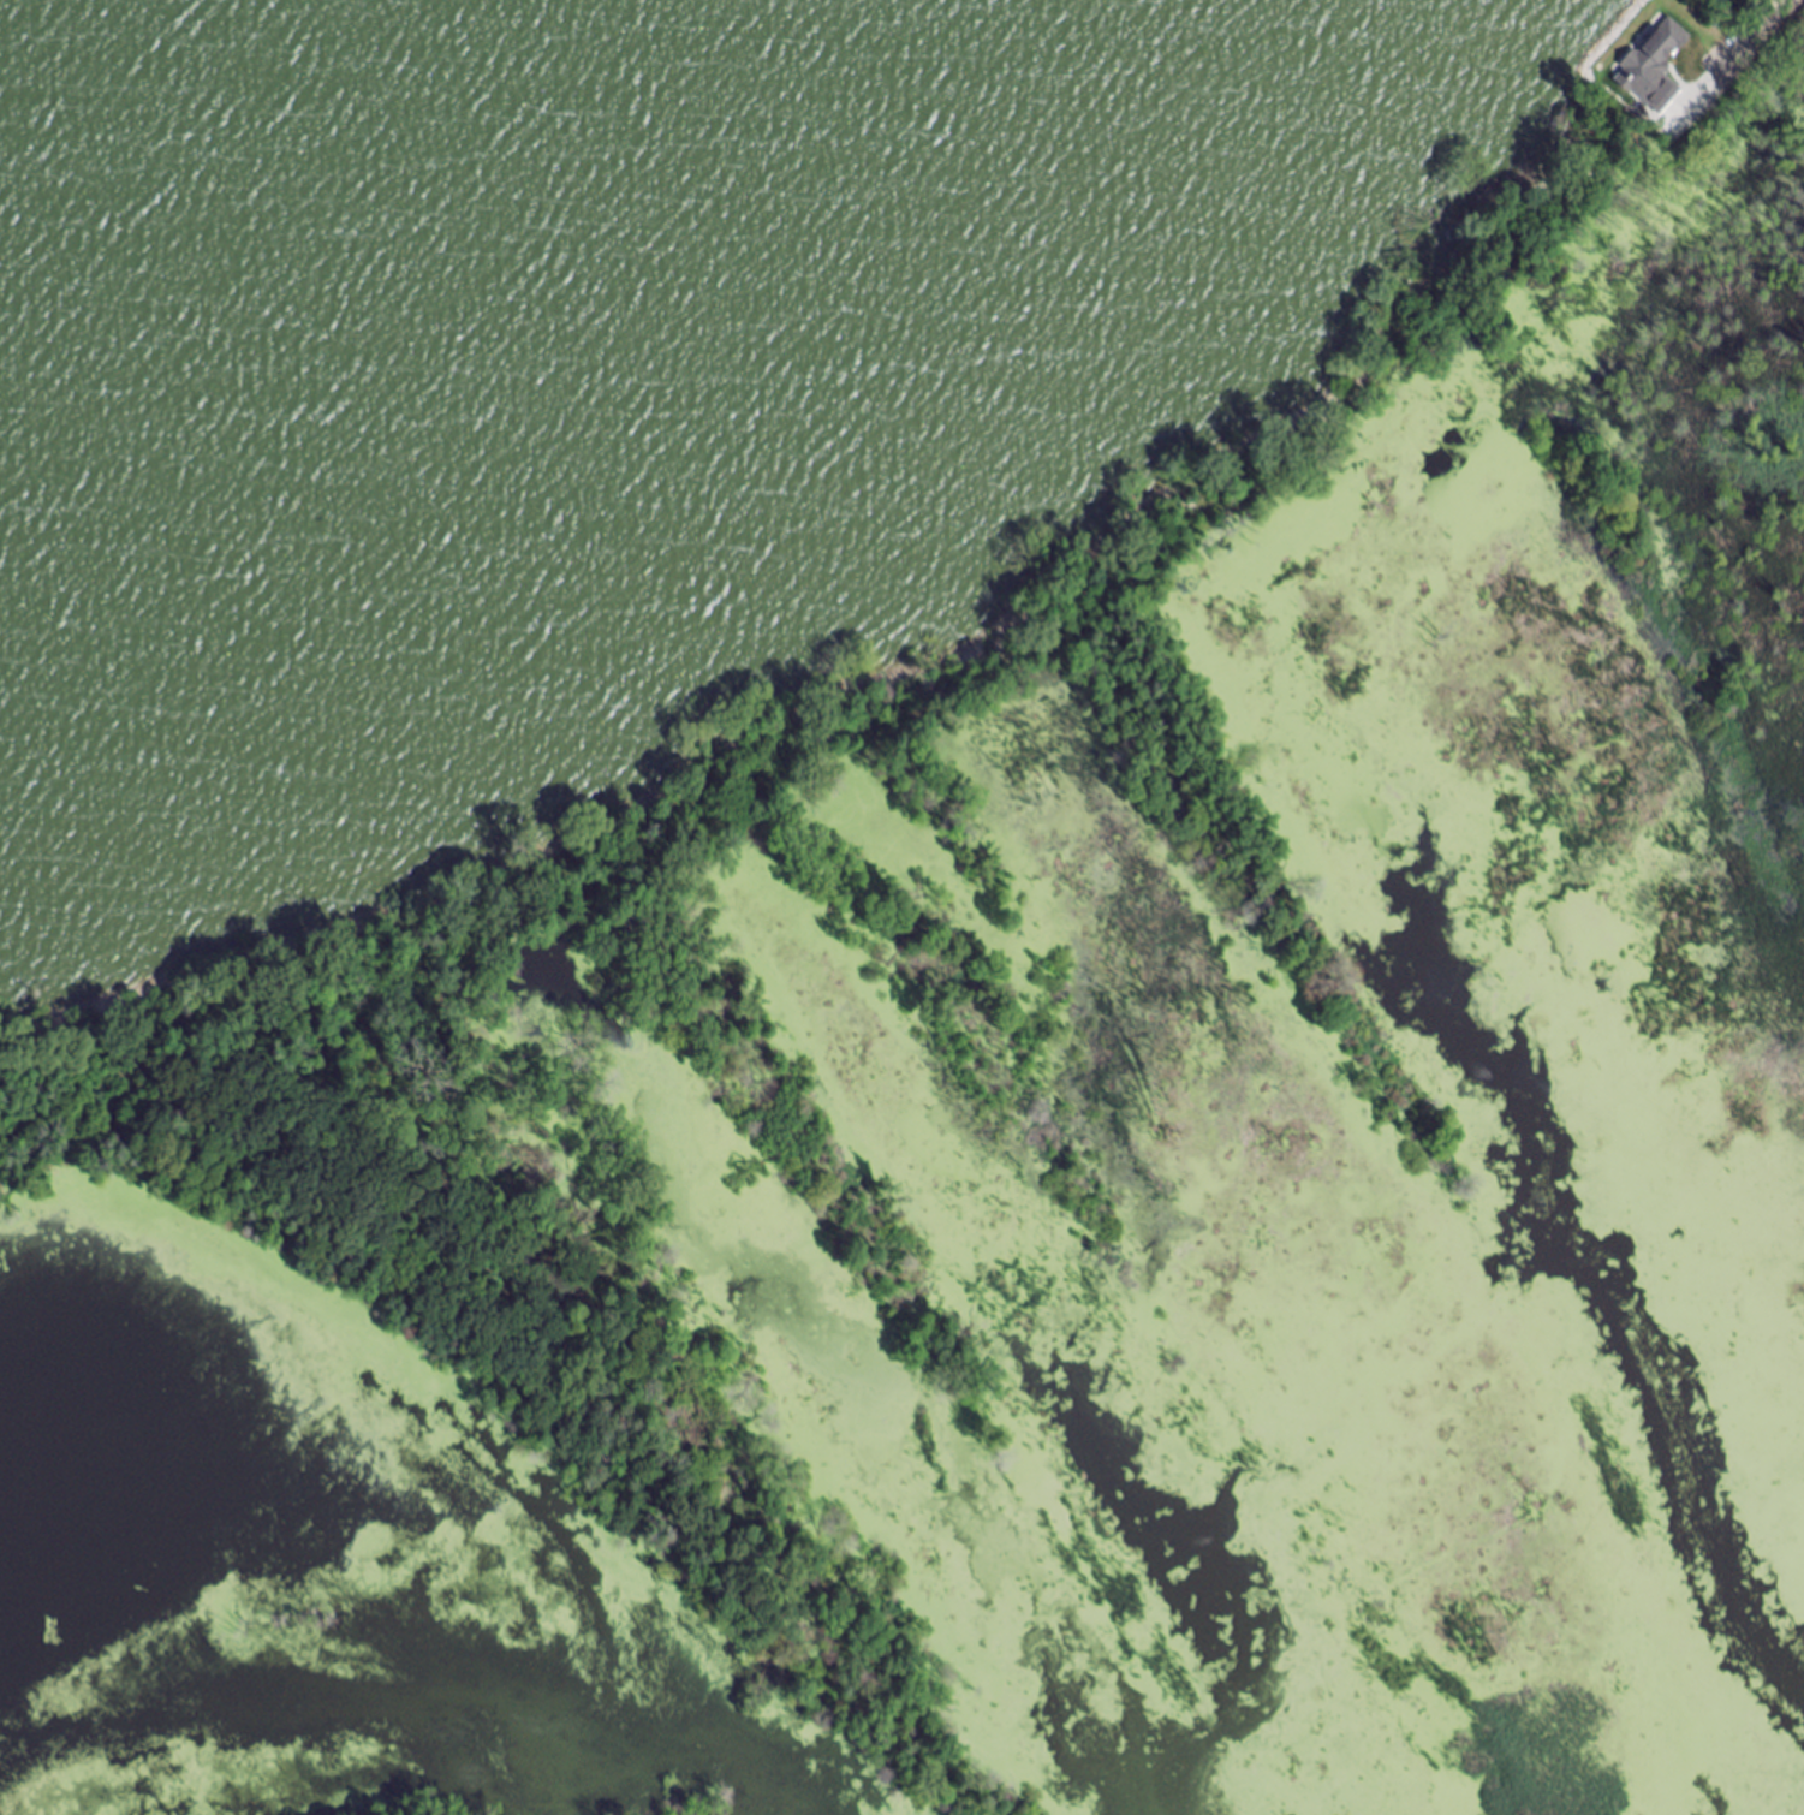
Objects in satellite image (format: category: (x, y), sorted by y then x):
building: (1723, 4)
road: (1760, 38)
building: (1654, 69)

